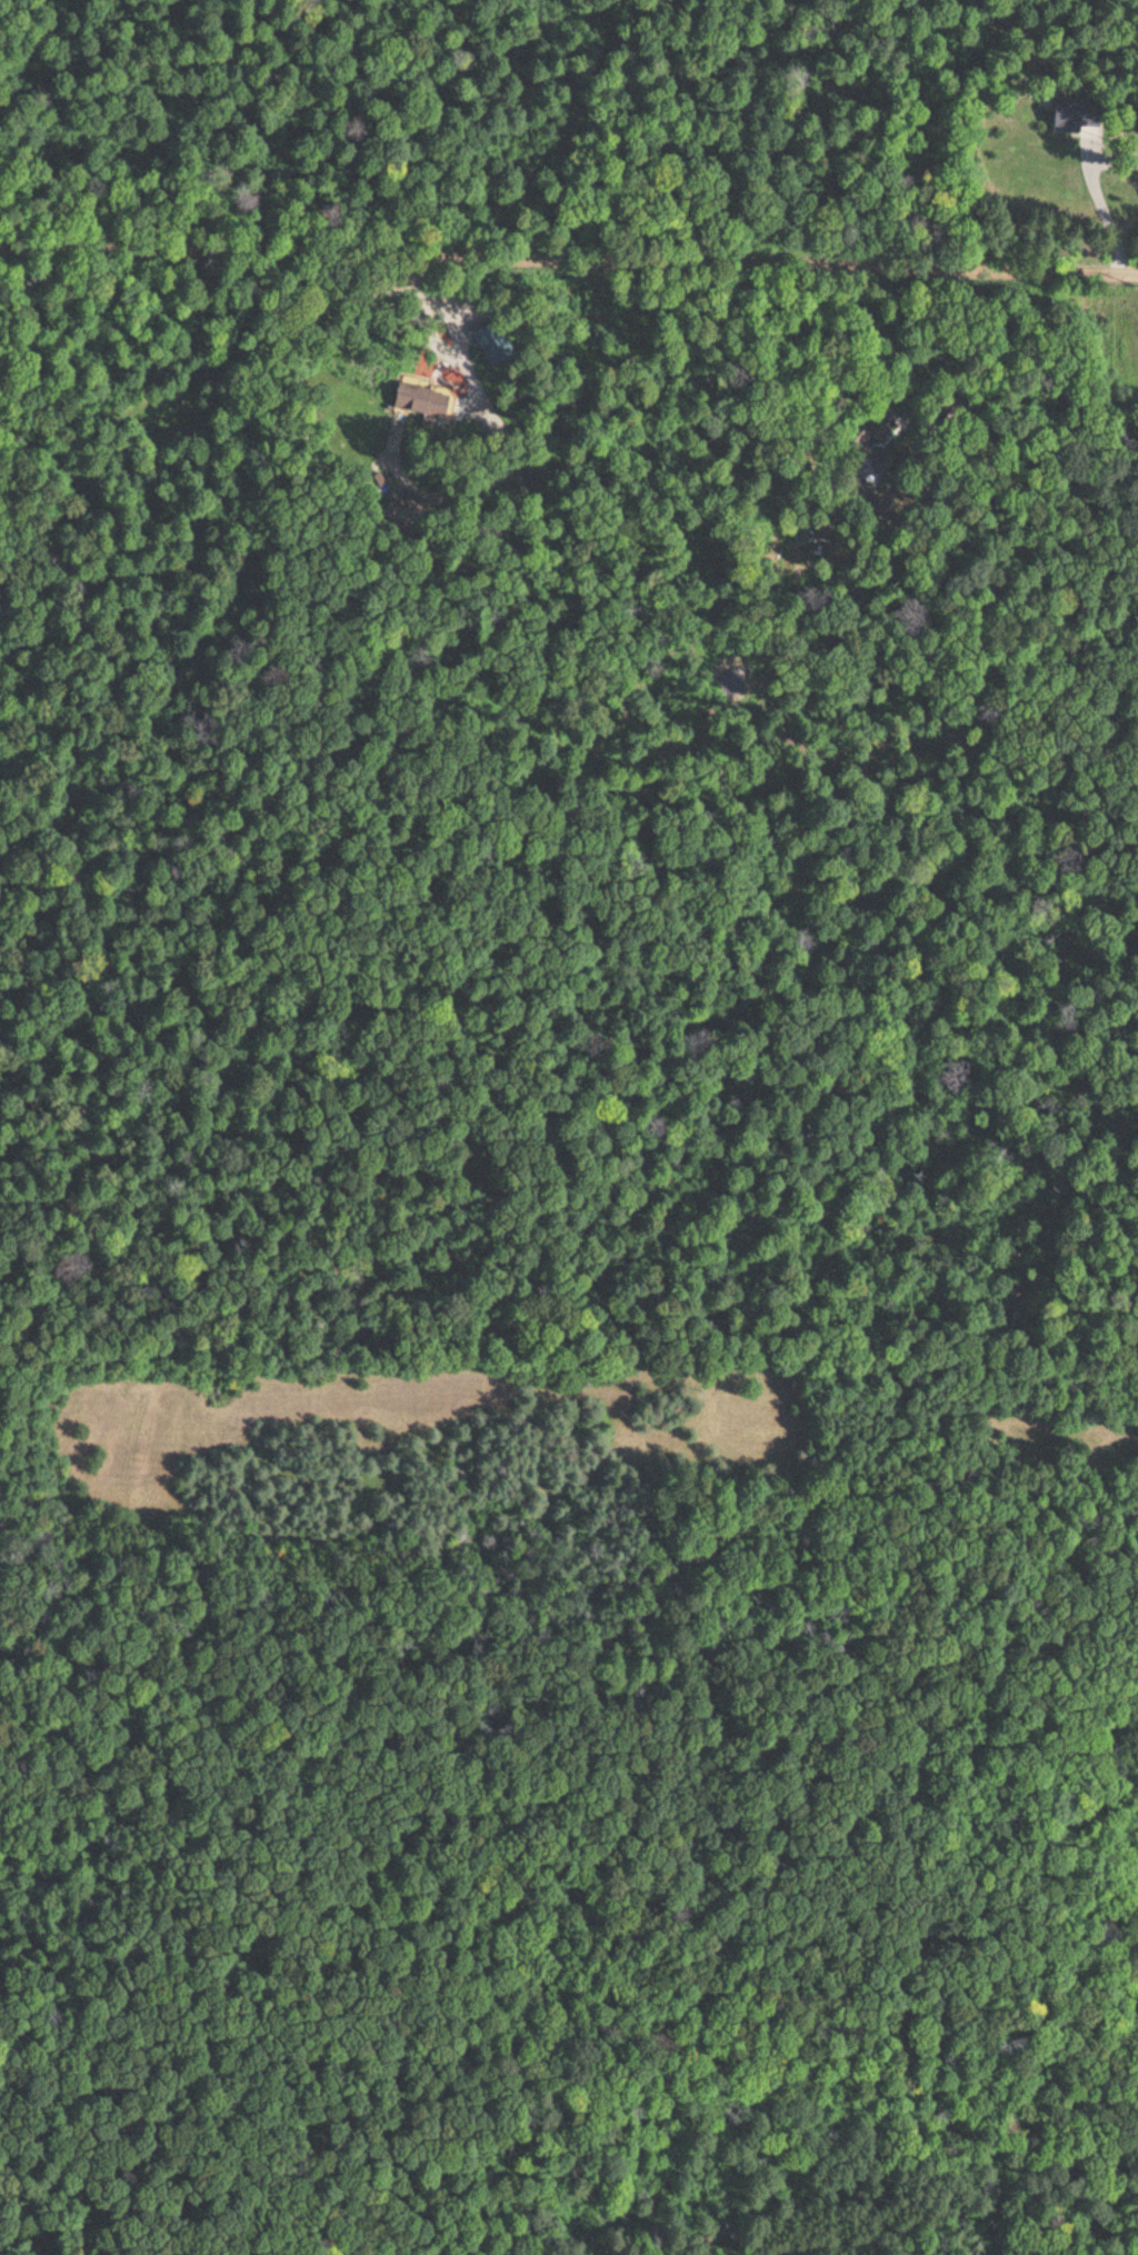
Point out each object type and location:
building: (1069, 112)
road: (569, 266)
building: (433, 402)

